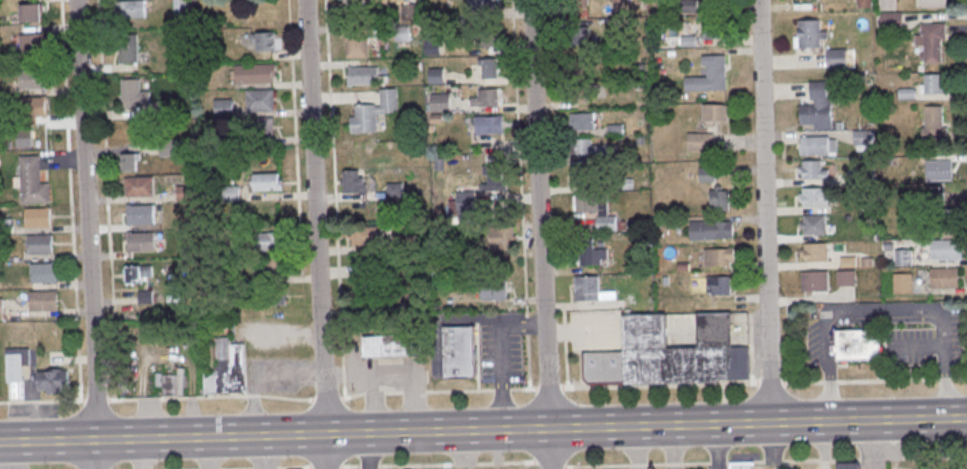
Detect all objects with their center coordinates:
building: (807, 0)
building: (619, 1)
building: (713, 1)
building: (578, 3)
building: (864, 4)
building: (934, 4)
building: (483, 5)
building: (353, 6)
building: (688, 6)
building: (888, 6)
building: (181, 7)
building: (131, 10)
building: (411, 11)
building: (32, 14)
building: (892, 23)
building: (713, 28)
building: (403, 34)
building: (810, 35)
building: (578, 36)
building: (494, 38)
building: (432, 42)
building: (689, 42)
building: (267, 43)
building: (933, 43)
building: (358, 45)
building: (33, 48)
building: (129, 49)
building: (837, 59)
building: (581, 66)
building: (490, 68)
building: (256, 74)
building: (364, 77)
building: (438, 77)
building: (710, 77)
building: (33, 80)
building: (934, 84)
building: (907, 94)
building: (134, 95)
building: (581, 95)
building: (489, 99)
building: (261, 102)
building: (389, 102)
building: (441, 103)
building: (224, 108)
building: (165, 109)
building: (818, 109)
building: (34, 111)
building: (717, 114)
building: (365, 120)
building: (583, 122)
building: (935, 124)
building: (490, 126)
building: (261, 129)
building: (616, 130)
building: (863, 137)
building: (702, 143)
building: (815, 147)
building: (168, 149)
building: (589, 149)
building: (130, 163)
building: (813, 171)
building: (939, 171)
building: (588, 175)
building: (708, 175)
building: (867, 175)
building: (494, 180)
building: (33, 183)
building: (269, 183)
building: (354, 184)
building: (626, 184)
building: (140, 188)
building: (396, 191)
road: (521, 192)
building: (185, 193)
building: (232, 194)
building: (815, 198)
building: (937, 198)
building: (721, 200)
building: (589, 204)
building: (467, 206)
road: (765, 211)
road: (540, 214)
building: (142, 216)
building: (39, 219)
building: (953, 219)
building: (607, 224)
building: (814, 226)
building: (6, 227)
building: (712, 231)
road: (87, 234)
road: (316, 234)
building: (368, 236)
building: (502, 239)
building: (269, 242)
building: (408, 243)
building: (142, 244)
building: (41, 246)
building: (947, 251)
building: (592, 253)
building: (816, 253)
building: (720, 257)
building: (904, 258)
building: (849, 263)
building: (277, 268)
building: (45, 275)
building: (133, 277)
building: (846, 279)
building: (945, 279)
building: (816, 282)
building: (904, 284)
building: (720, 285)
building: (588, 289)
building: (495, 290)
building: (279, 297)
building: (146, 298)
road: (809, 298)
road: (787, 301)
building: (44, 302)
road: (591, 304)
road: (564, 307)
building: (1, 308)
road: (885, 315)
road: (526, 324)
road: (523, 325)
road: (788, 343)
building: (395, 344)
building: (858, 344)
parking lot: (910, 347)
road: (566, 348)
road: (751, 349)
road: (502, 351)
building: (671, 351)
building: (460, 354)
parking lot: (500, 354)
road: (528, 361)
building: (228, 370)
building: (17, 373)
road: (959, 379)
building: (53, 380)
road: (945, 380)
road: (861, 381)
road: (771, 382)
road: (659, 385)
building: (171, 387)
road: (549, 388)
road: (502, 389)
road: (523, 389)
road: (247, 396)
road: (502, 406)
road: (759, 424)
road: (276, 436)
road: (872, 445)
road: (717, 446)
road: (675, 447)
road: (633, 448)
road: (554, 449)
road: (369, 451)
road: (260, 452)
road: (550, 462)
road: (766, 462)
road: (436, 463)
building: (849, 465)
road: (322, 466)
building: (742, 466)
road: (262, 467)
road: (306, 468)

